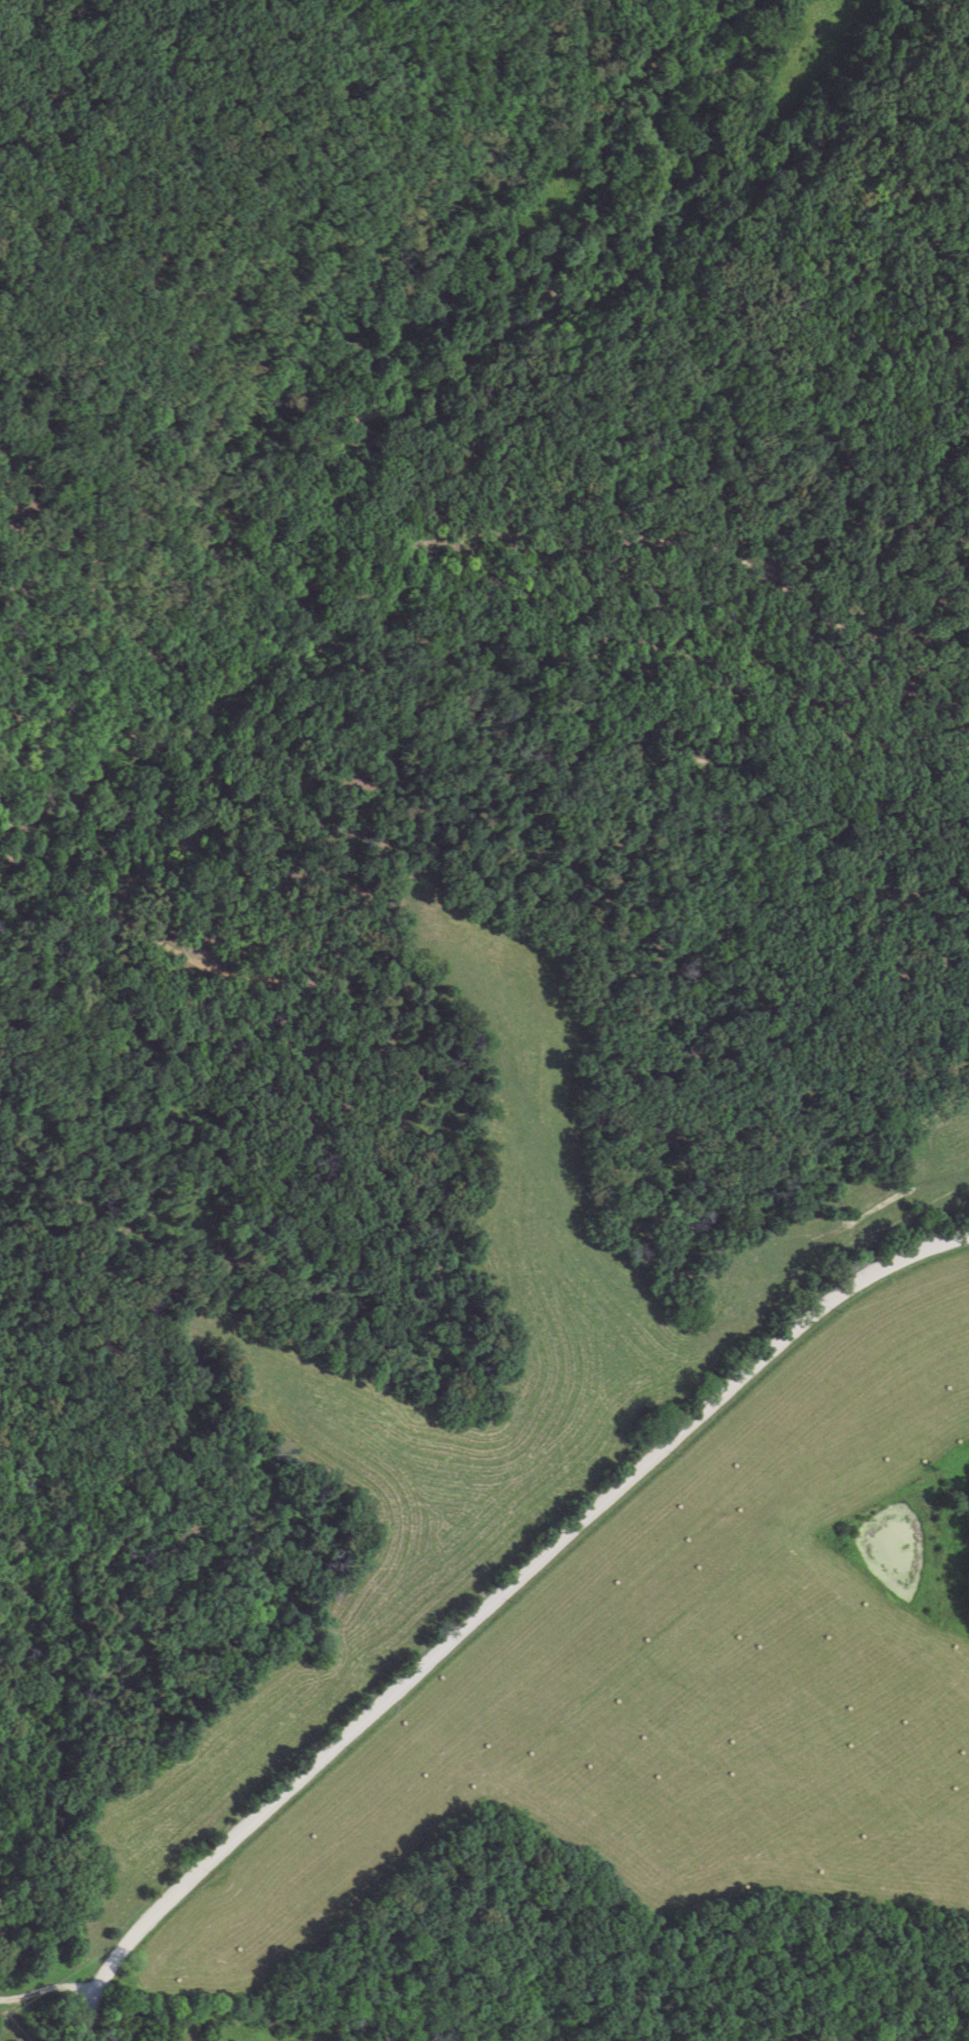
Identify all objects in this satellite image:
road: (492, 1604)
road: (83, 1980)
road: (31, 1995)

